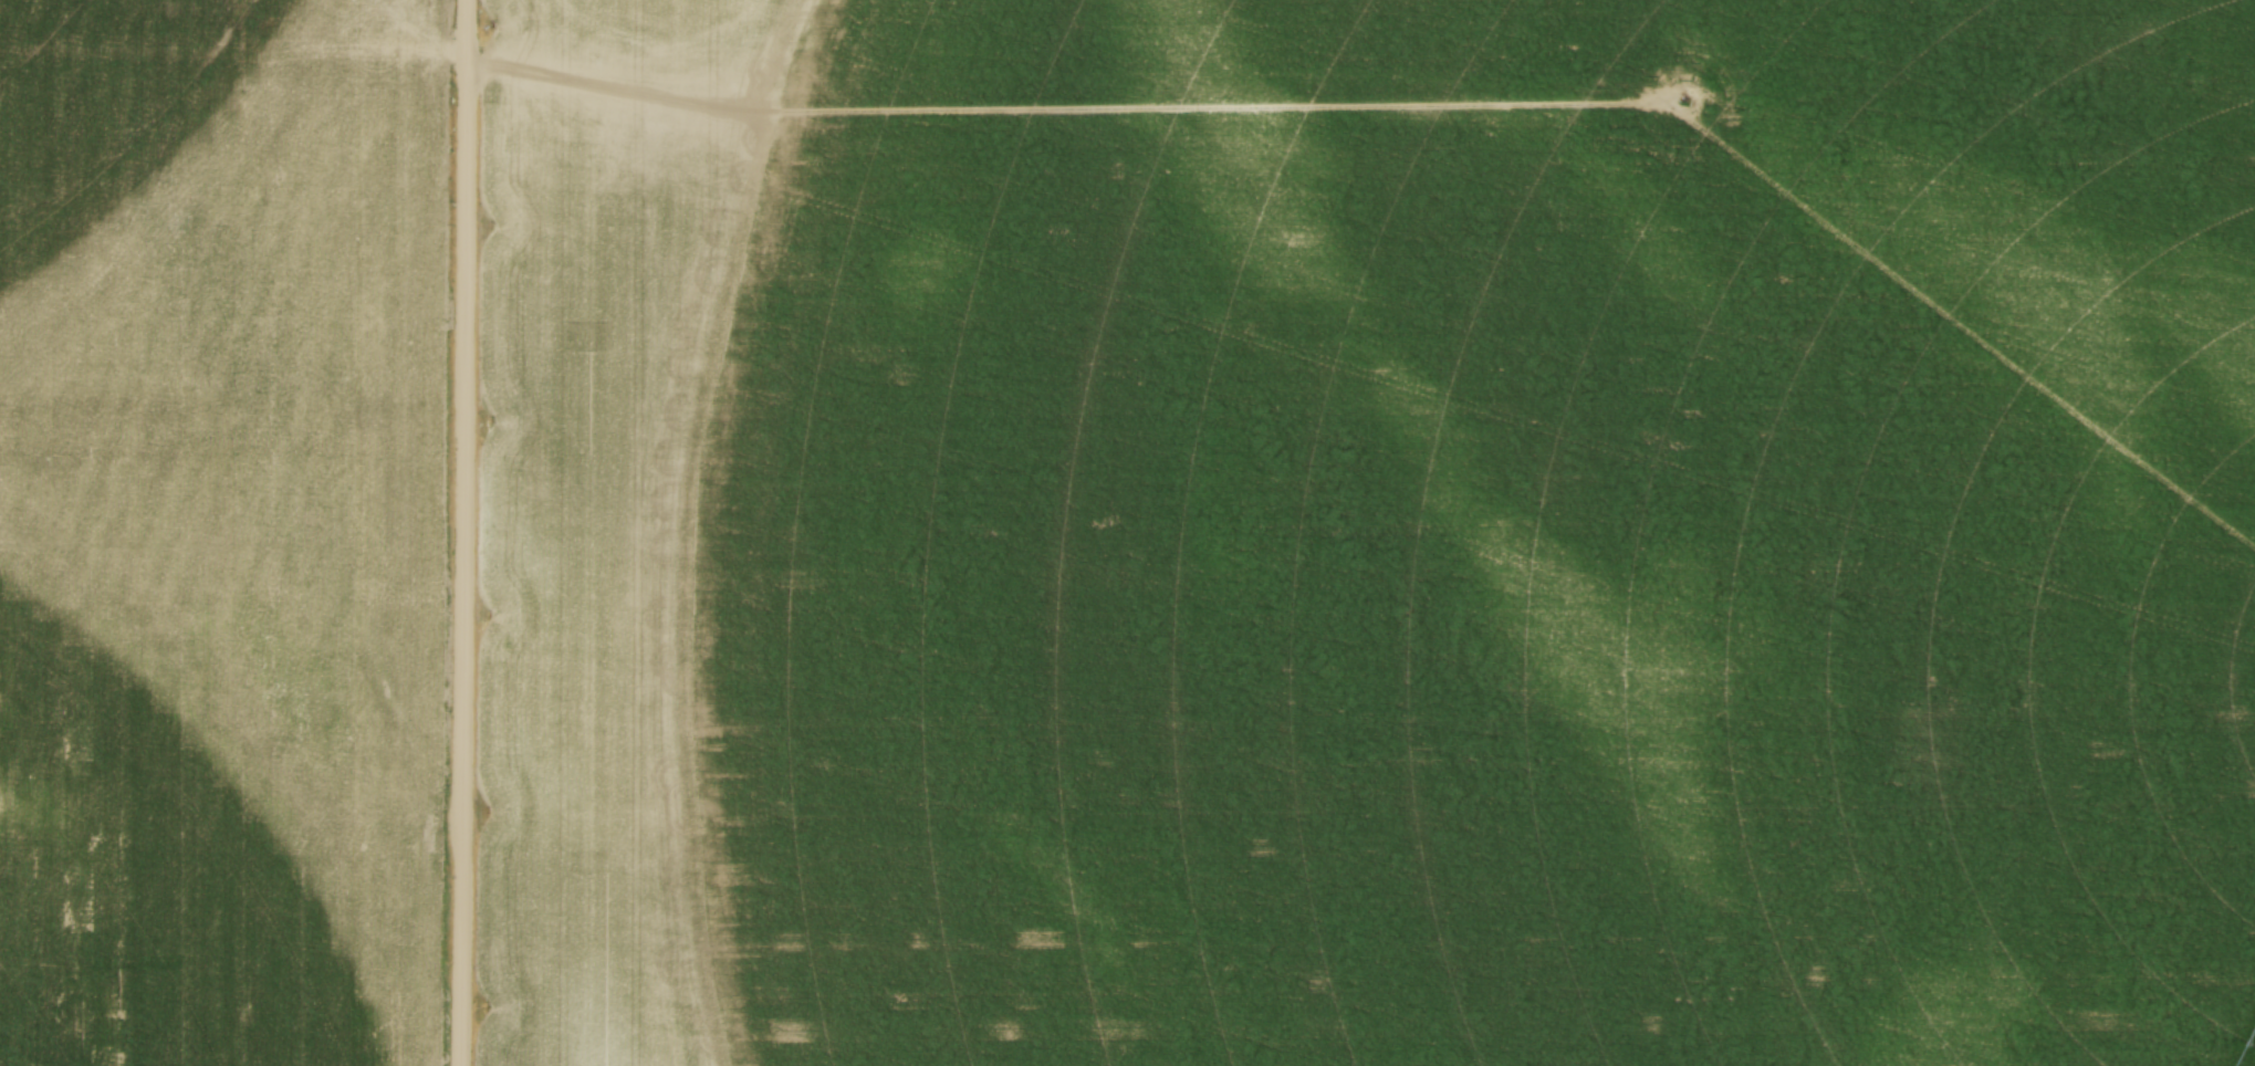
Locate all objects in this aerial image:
crop: (222, 532)
road: (466, 532)
crop: (1370, 533)
building: (1629, 722)
building: (1547, 833)

